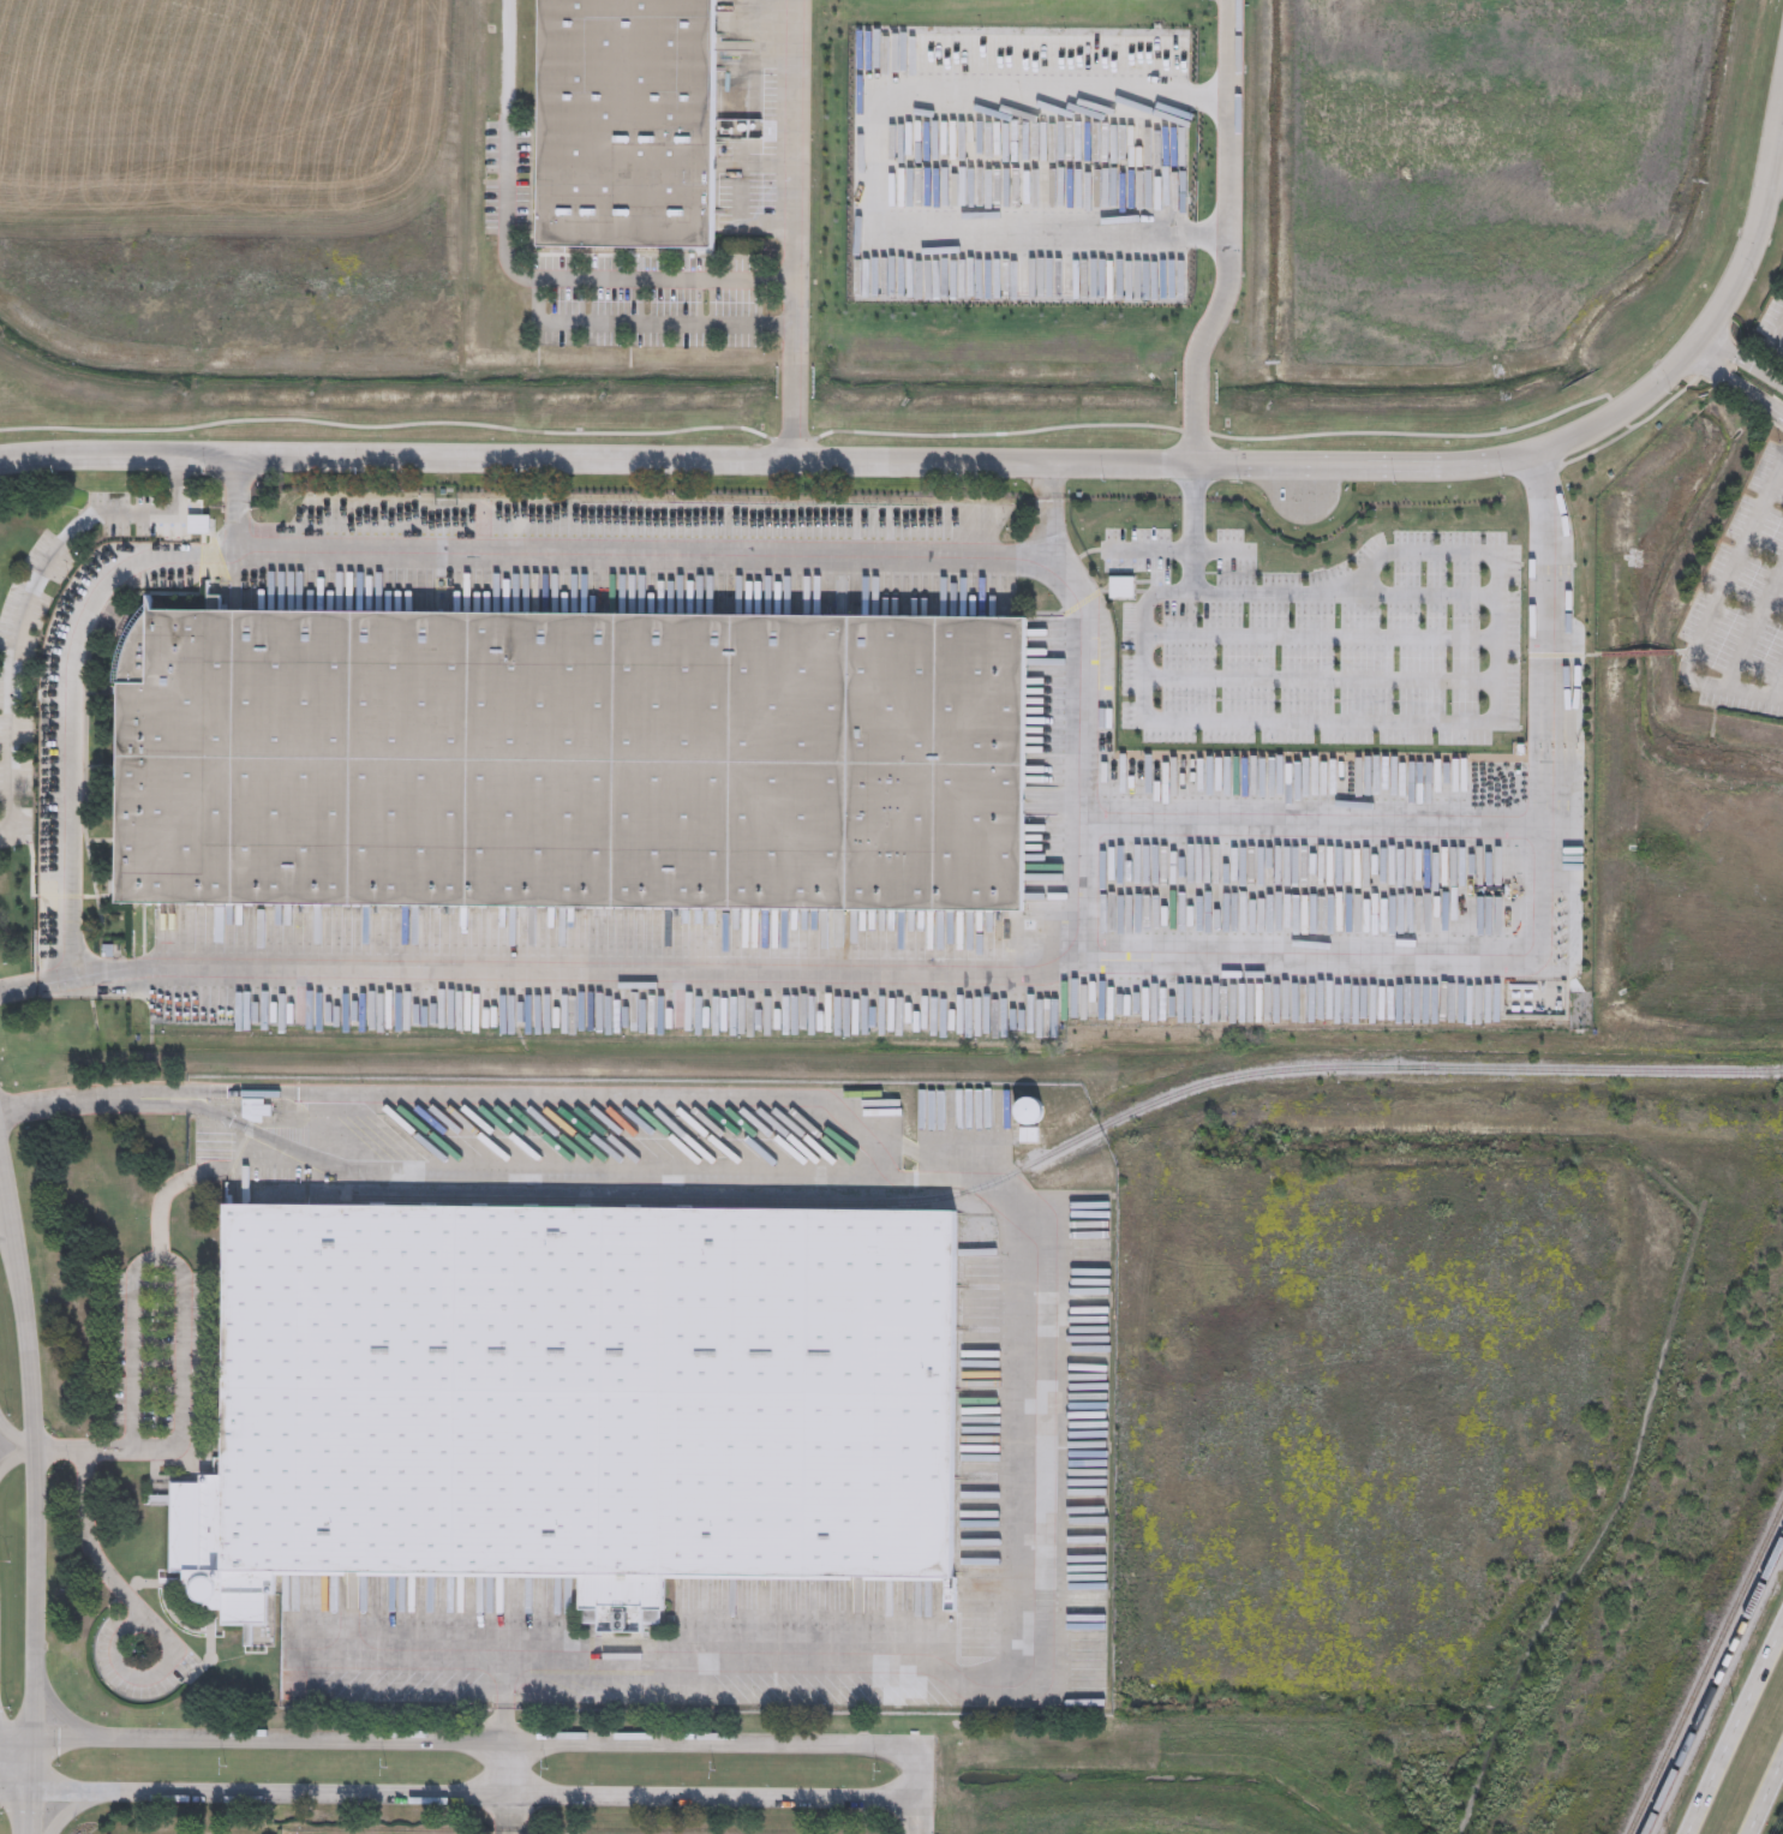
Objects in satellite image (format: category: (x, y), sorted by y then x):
building: (629, 124)
road: (875, 161)
road: (1778, 175)
road: (792, 228)
road: (1231, 234)
road: (516, 273)
road: (640, 322)
road: (1710, 346)
road: (1752, 363)
road: (1743, 388)
road: (982, 460)
road: (1048, 477)
road: (235, 479)
road: (235, 527)
road: (178, 536)
road: (366, 549)
road: (1175, 551)
road: (1723, 591)
road: (1344, 595)
road: (30, 598)
road: (1321, 637)
road: (1551, 638)
road: (1742, 656)
road: (1320, 680)
road: (1776, 683)
road: (1341, 722)
building: (569, 763)
road: (36, 831)
road: (1549, 890)
road: (794, 972)
road: (18, 988)
building: (1033, 1113)
railway: (1065, 1148)
road: (7, 1157)
road: (234, 1169)
road: (1024, 1212)
road: (131, 1324)
road: (180, 1366)
building: (578, 1398)
road: (17, 1430)
road: (19, 1458)
road: (42, 1465)
road: (92, 1543)
railway: (1709, 1678)
railway: (1715, 1690)
road: (67, 1710)
road: (502, 1720)
road: (19, 1731)
road: (1735, 1731)
road: (477, 1738)
road: (40, 1758)
road: (502, 1762)
road: (915, 1766)
road: (19, 1785)
road: (477, 1786)
road: (1766, 1799)
road: (67, 1808)
road: (503, 1809)
road: (35, 1810)
road: (916, 1811)

